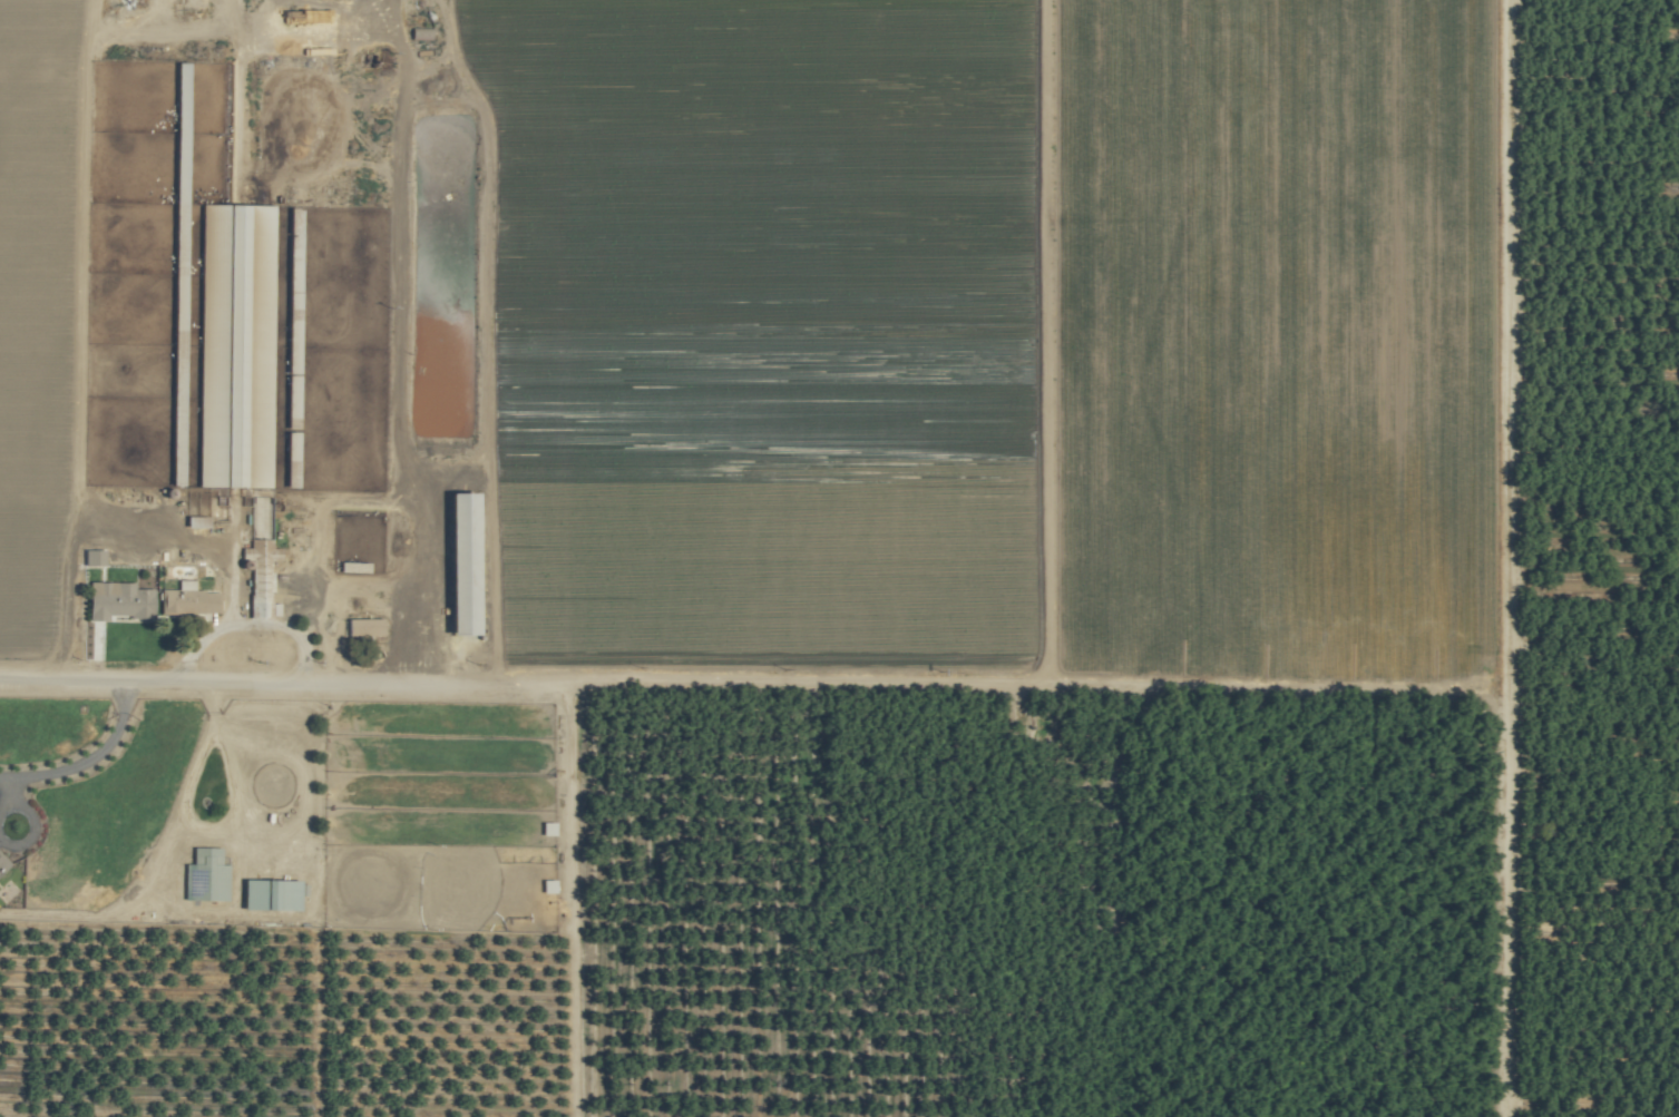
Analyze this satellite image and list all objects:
crop: (286, 335)
road: (580, 347)
crop: (839, 558)
building: (258, 577)
building: (116, 600)
building: (187, 601)
building: (362, 627)
road: (286, 692)
road: (81, 761)
building: (2, 862)
building: (206, 872)
building: (267, 893)

